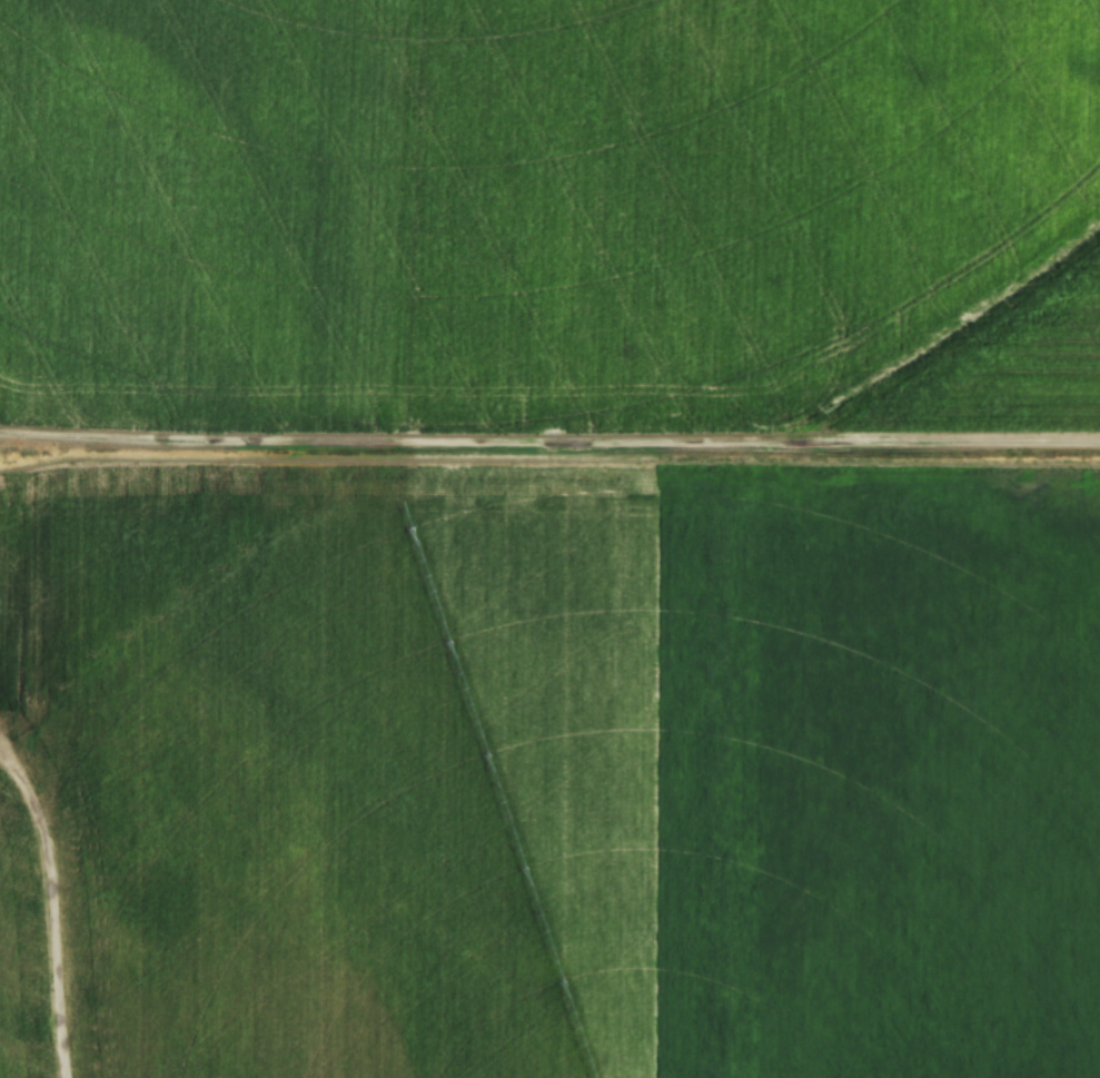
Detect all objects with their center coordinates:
road: (549, 432)

